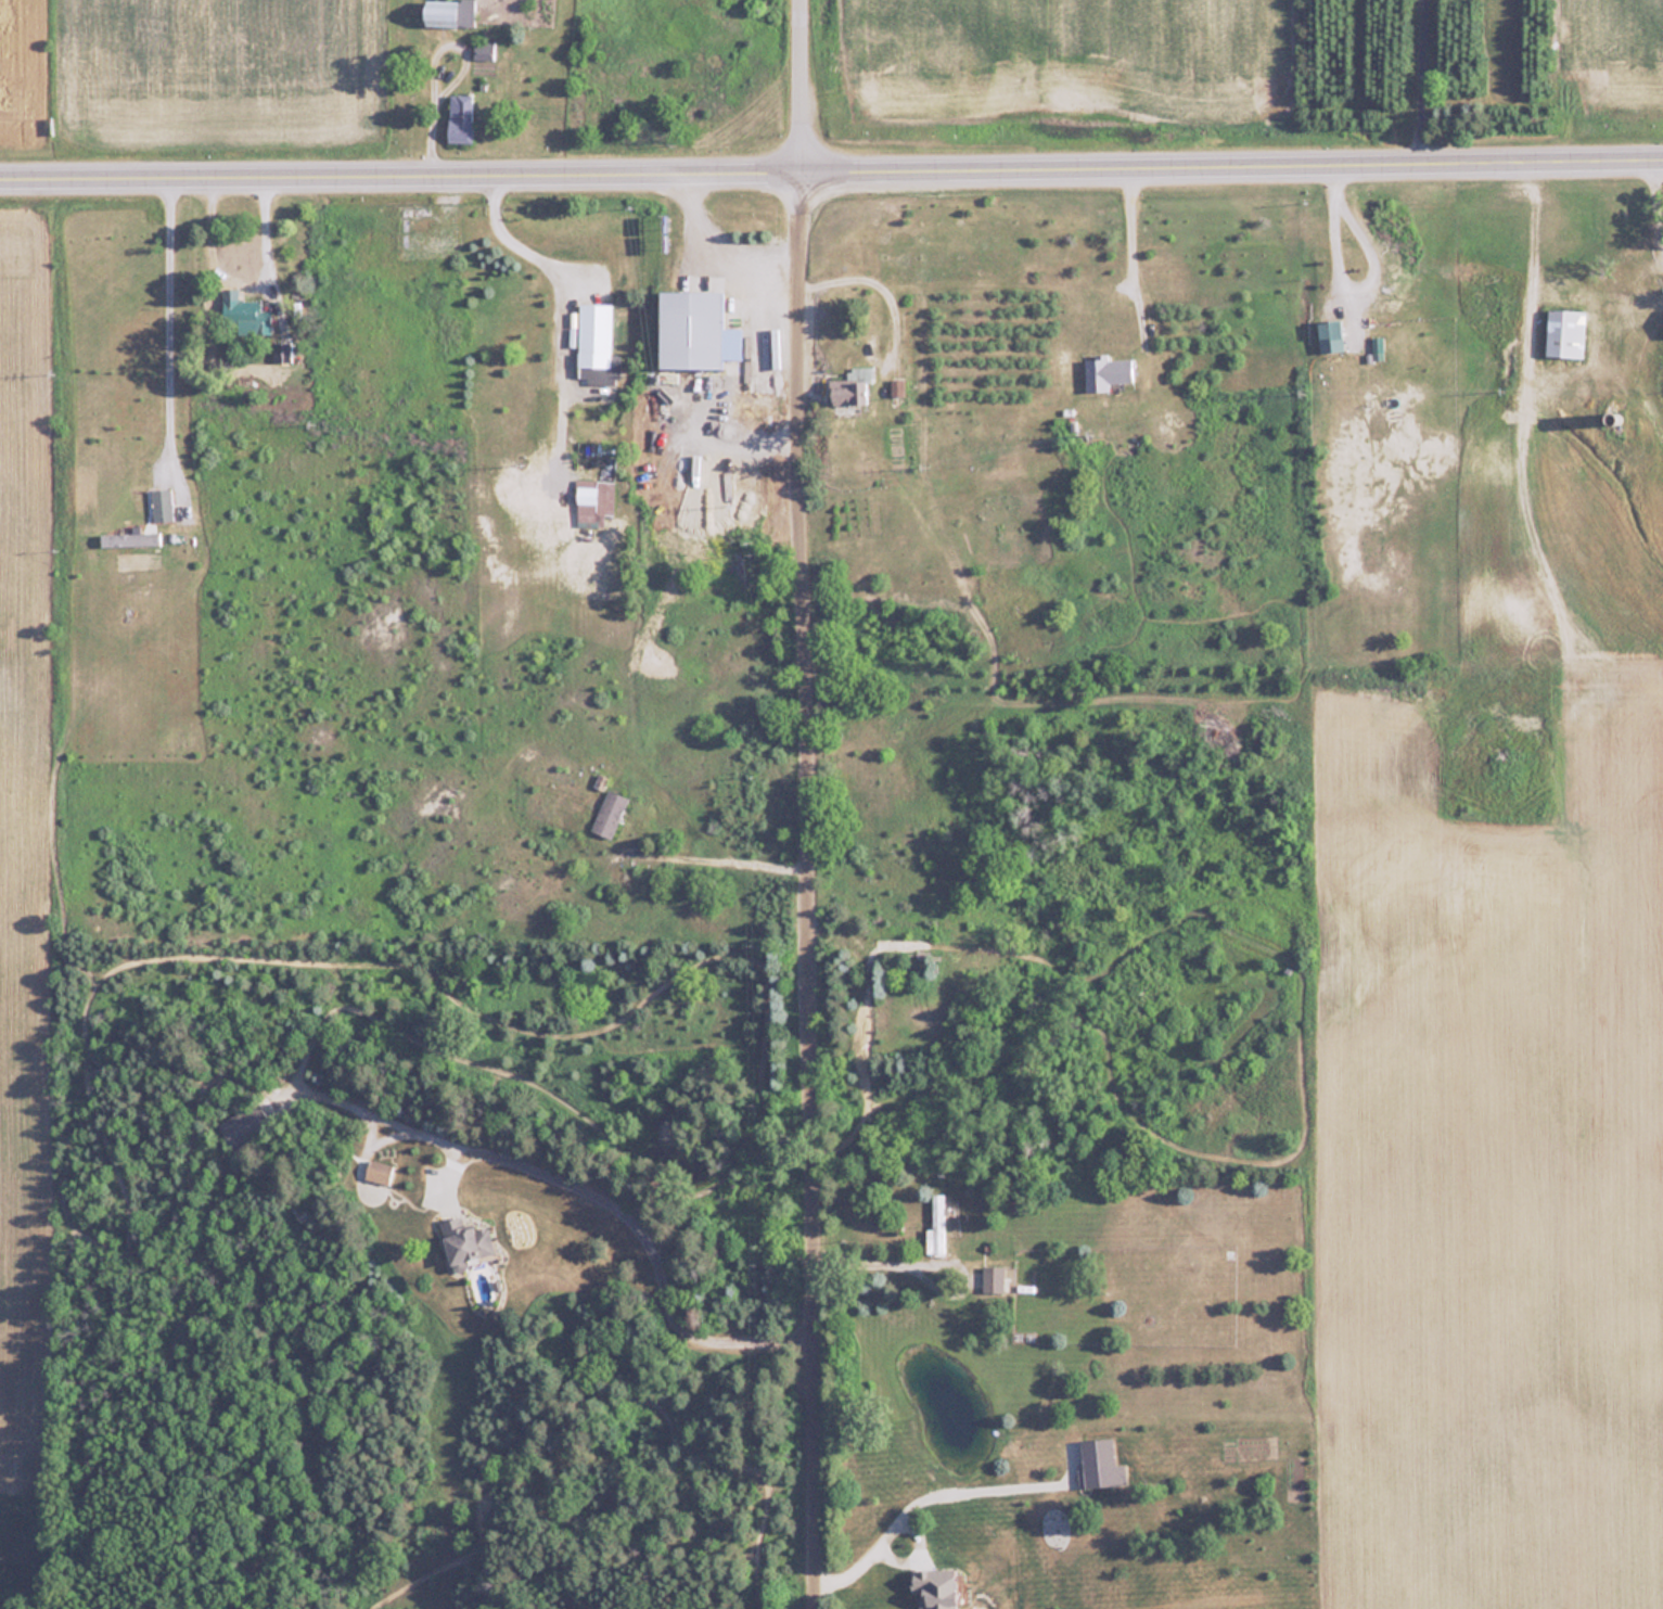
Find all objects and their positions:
building: (442, 13)
road: (1418, 84)
building: (460, 117)
road: (831, 175)
road: (1130, 253)
road: (541, 260)
road: (242, 286)
road: (1347, 288)
building: (1612, 301)
building: (240, 309)
road: (165, 323)
building: (695, 330)
building: (1565, 332)
building: (593, 333)
building: (1330, 334)
building: (1106, 371)
building: (897, 386)
building: (853, 390)
building: (161, 502)
building: (128, 538)
road: (808, 804)
building: (609, 813)
road: (715, 860)
building: (901, 943)
building: (244, 1126)
building: (376, 1171)
building: (935, 1225)
road: (642, 1236)
building: (465, 1241)
building: (993, 1277)

